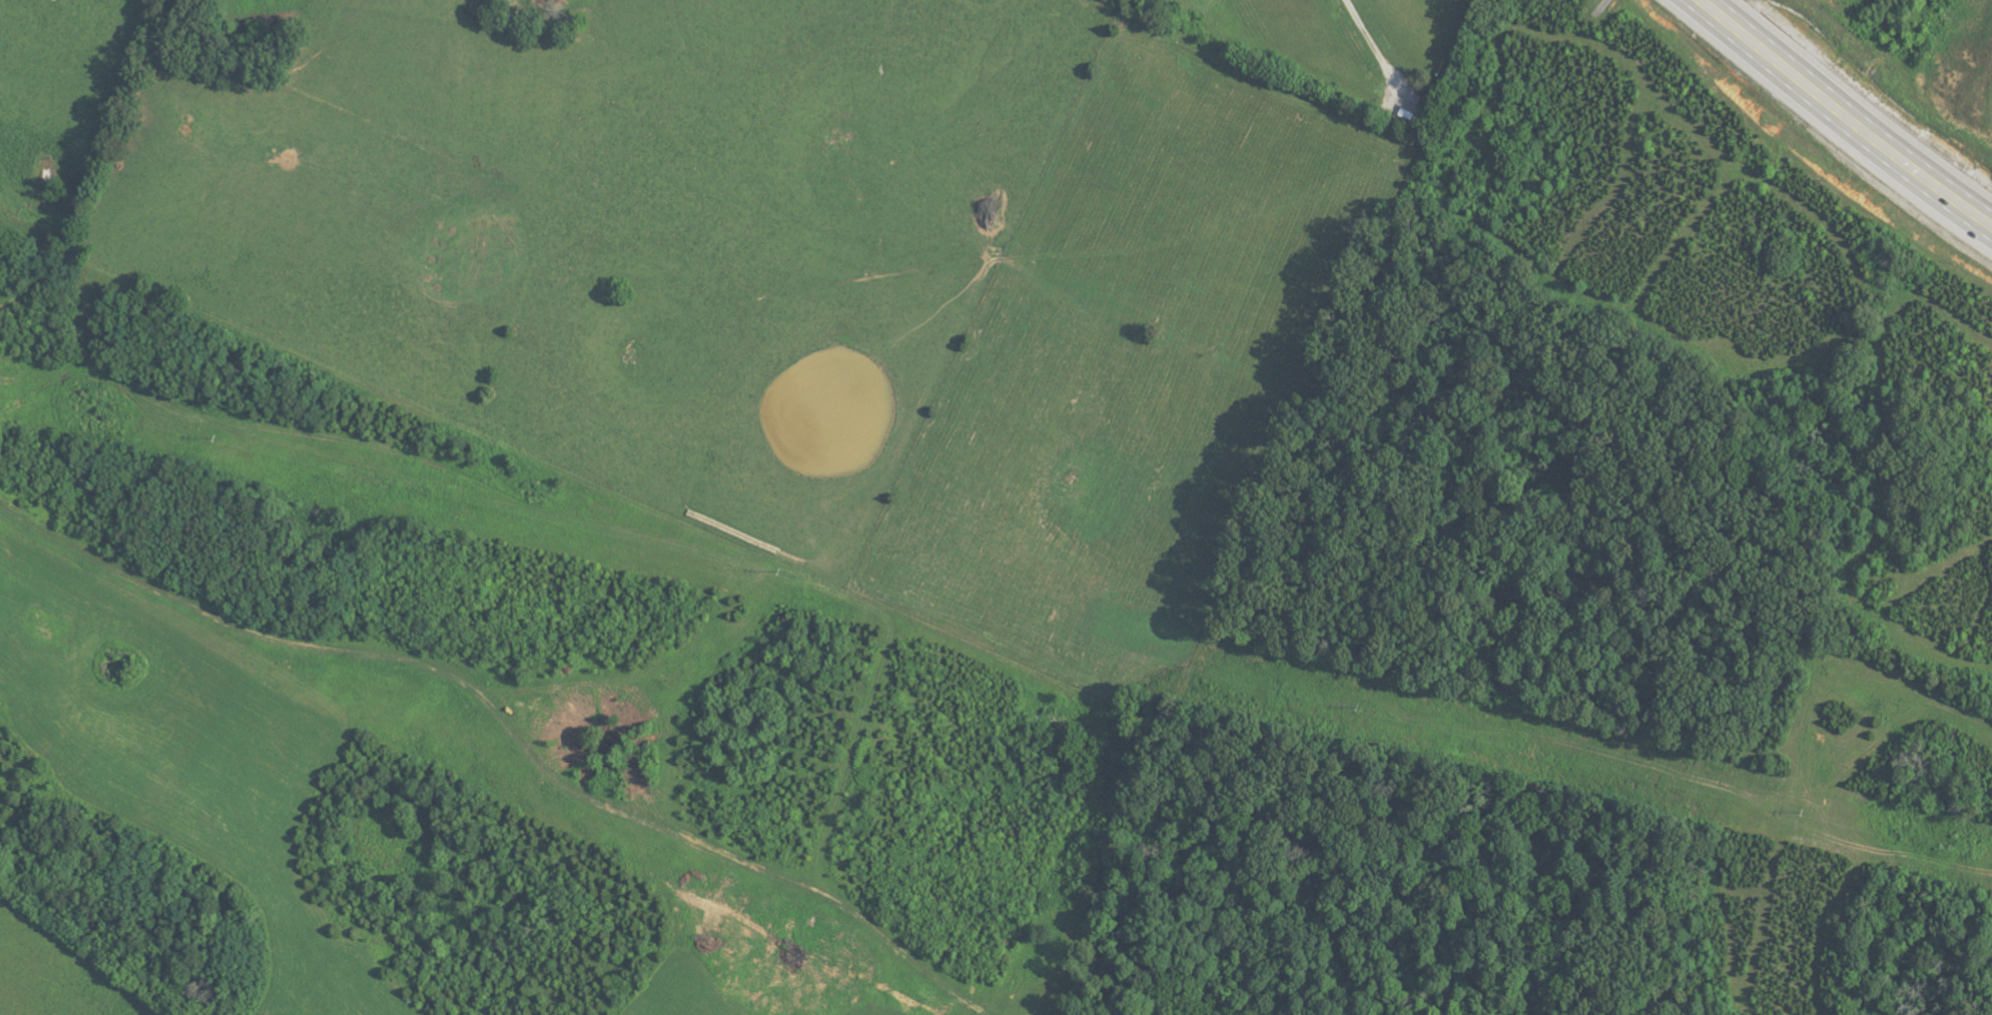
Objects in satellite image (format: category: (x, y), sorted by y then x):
road: (1369, 42)
road: (1844, 115)

